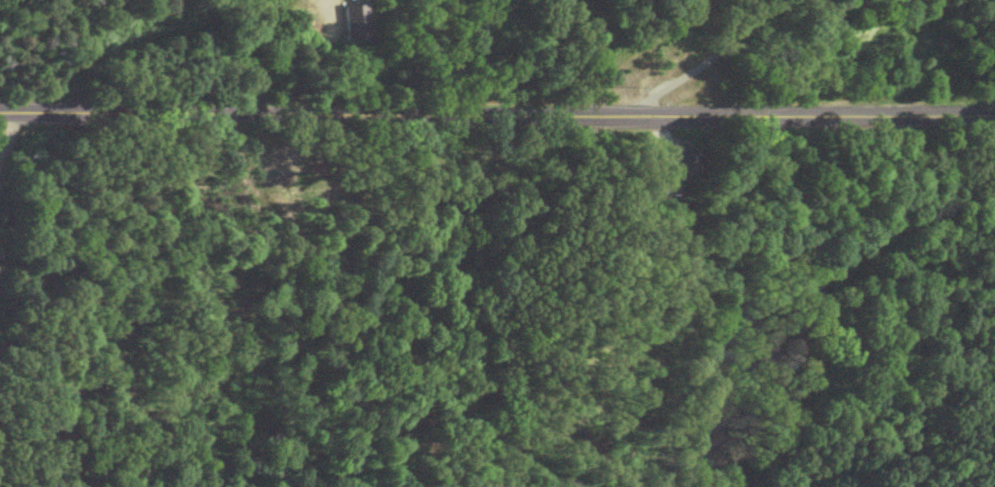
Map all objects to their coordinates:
building: (356, 20)
road: (698, 65)
road: (497, 113)

